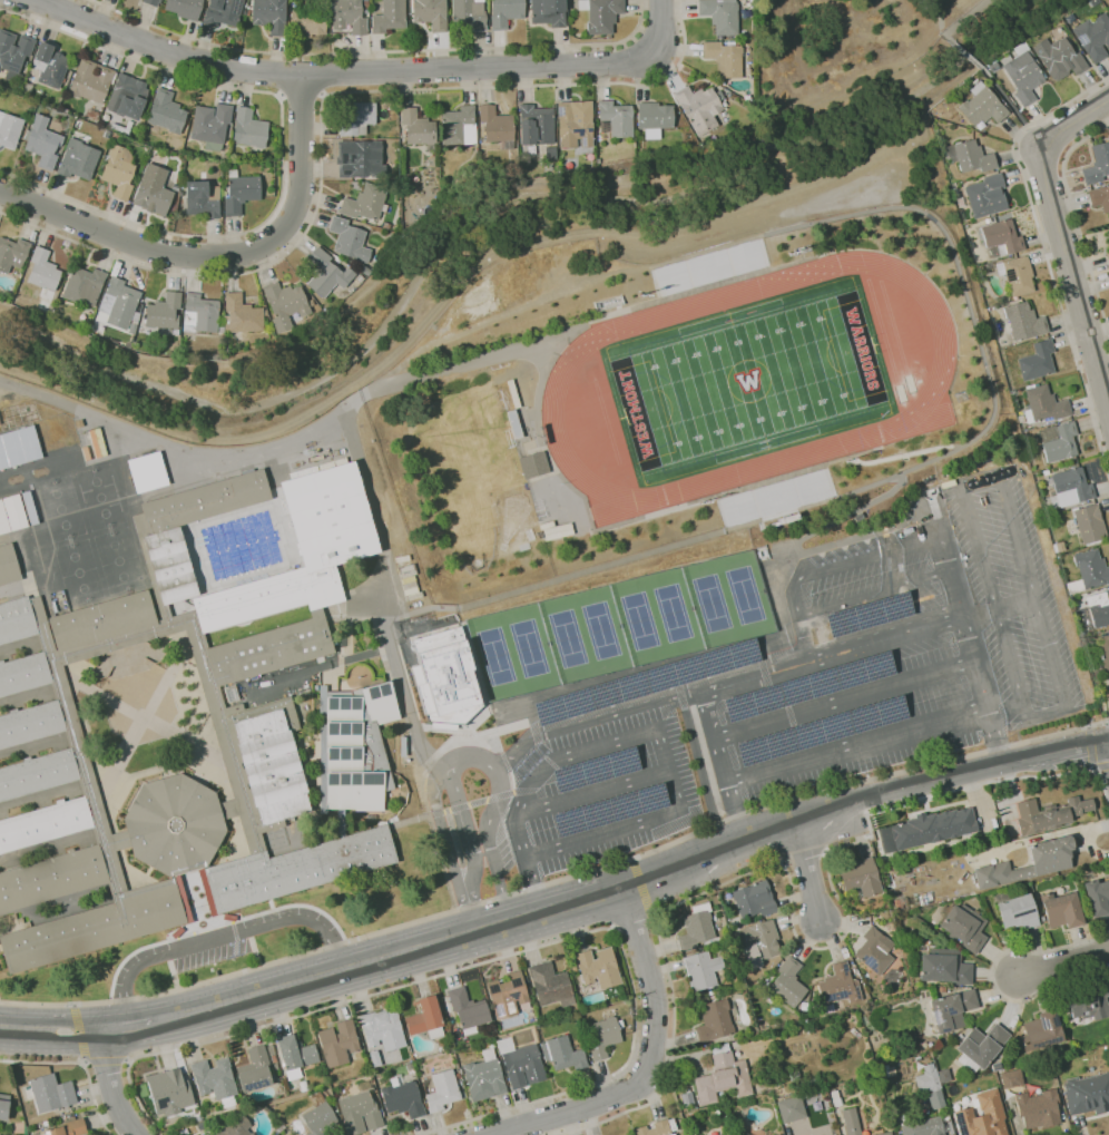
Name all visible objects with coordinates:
building: (153, 2)
building: (185, 8)
building: (366, 8)
building: (248, 12)
building: (506, 12)
building: (549, 12)
building: (432, 13)
building: (224, 14)
building: (470, 14)
building: (601, 14)
building: (722, 14)
building: (271, 16)
building: (349, 16)
building: (390, 17)
road: (961, 21)
building: (308, 23)
road: (659, 26)
building: (1093, 37)
road: (374, 51)
building: (13, 52)
building: (725, 58)
building: (1059, 58)
road: (971, 59)
building: (50, 66)
road: (338, 74)
building: (1022, 76)
building: (92, 80)
building: (27, 88)
road: (301, 96)
building: (128, 97)
road: (1007, 100)
building: (982, 107)
building: (700, 108)
building: (167, 111)
road: (321, 115)
building: (356, 117)
building: (655, 118)
building: (616, 119)
building: (576, 124)
building: (212, 125)
building: (536, 125)
building: (459, 126)
building: (498, 126)
building: (122, 127)
building: (419, 128)
building: (10, 129)
building: (249, 129)
building: (116, 136)
building: (42, 143)
road: (283, 155)
building: (972, 157)
building: (78, 159)
building: (363, 160)
building: (1098, 164)
building: (119, 173)
building: (154, 190)
building: (241, 192)
building: (224, 194)
building: (987, 195)
building: (1100, 196)
building: (203, 198)
road: (460, 199)
building: (365, 203)
road: (1074, 217)
road: (801, 224)
building: (1001, 236)
building: (350, 239)
road: (1064, 242)
building: (804, 249)
road: (1044, 251)
building: (12, 253)
road: (219, 257)
building: (1107, 258)
building: (338, 260)
building: (367, 271)
building: (43, 273)
building: (327, 273)
building: (1018, 275)
building: (360, 278)
building: (85, 286)
building: (118, 304)
building: (285, 304)
building: (312, 304)
building: (165, 312)
building: (200, 314)
building: (242, 315)
building: (1023, 322)
building: (135, 323)
building: (1038, 361)
road: (445, 370)
park: (748, 381)
track: (933, 390)
building: (1044, 403)
building: (516, 423)
building: (95, 443)
building: (1061, 443)
building: (18, 447)
road: (273, 448)
building: (87, 453)
road: (904, 453)
park: (467, 458)
building: (534, 464)
building: (148, 472)
road: (740, 487)
building: (1071, 487)
park: (100, 497)
road: (124, 498)
building: (205, 501)
park: (61, 508)
park: (511, 511)
building: (11, 513)
building: (330, 517)
road: (1012, 520)
building: (1088, 524)
road: (876, 531)
road: (90, 534)
road: (90, 536)
road: (660, 549)
road: (980, 549)
park: (120, 561)
road: (841, 564)
building: (8, 565)
building: (170, 566)
road: (57, 568)
building: (1091, 569)
park: (79, 573)
building: (409, 577)
road: (13, 590)
road: (872, 594)
park: (747, 595)
building: (59, 596)
parking lot: (1010, 596)
building: (268, 597)
park: (714, 604)
road: (1017, 604)
building: (53, 605)
park: (674, 611)
building: (1100, 614)
road: (980, 615)
building: (17, 620)
building: (102, 620)
park: (641, 622)
road: (883, 629)
park: (602, 630)
road: (136, 638)
park: (569, 639)
park: (530, 647)
road: (21, 648)
building: (272, 649)
building: (1103, 650)
park: (498, 657)
road: (974, 662)
road: (814, 663)
building: (23, 674)
road: (641, 675)
building: (446, 676)
parking lot: (860, 676)
building: (1108, 687)
building: (232, 693)
road: (29, 698)
road: (844, 698)
road: (645, 699)
building: (275, 705)
road: (1047, 711)
road: (703, 712)
road: (141, 717)
building: (30, 724)
road: (433, 727)
road: (324, 732)
road: (641, 732)
road: (856, 741)
road: (701, 744)
building: (323, 747)
building: (357, 747)
building: (403, 747)
road: (36, 750)
road: (992, 750)
road: (1056, 752)
road: (1089, 757)
building: (272, 766)
building: (37, 774)
road: (999, 780)
road: (926, 782)
parking lot: (598, 784)
road: (728, 786)
road: (593, 790)
road: (42, 800)
road: (477, 802)
building: (1050, 814)
road: (489, 820)
building: (341, 823)
building: (45, 824)
building: (175, 824)
building: (925, 830)
road: (735, 839)
road: (448, 848)
road: (470, 849)
road: (50, 851)
building: (1050, 861)
road: (441, 863)
building: (294, 869)
road: (807, 872)
road: (189, 877)
building: (861, 877)
building: (52, 878)
road: (642, 888)
road: (714, 889)
building: (1097, 897)
road: (57, 899)
road: (207, 900)
building: (754, 900)
road: (188, 906)
road: (568, 907)
building: (1062, 910)
building: (1017, 911)
road: (443, 914)
road: (632, 922)
road: (218, 924)
building: (99, 926)
road: (498, 926)
building: (696, 927)
building: (963, 927)
road: (234, 928)
road: (479, 931)
road: (222, 938)
building: (762, 939)
building: (874, 951)
road: (501, 957)
road: (1063, 963)
building: (943, 967)
building: (598, 968)
building: (700, 970)
road: (991, 978)
road: (312, 980)
building: (788, 982)
building: (549, 984)
building: (838, 986)
building: (507, 995)
building: (1092, 1004)
building: (951, 1009)
building: (468, 1010)
building: (426, 1019)
building: (714, 1020)
road: (124, 1027)
building: (1043, 1027)
building: (383, 1029)
road: (49, 1030)
building: (601, 1037)
building: (337, 1043)
building: (981, 1045)
building: (295, 1053)
building: (562, 1054)
road: (80, 1055)
building: (375, 1058)
road: (80, 1060)
road: (651, 1065)
building: (523, 1066)
building: (255, 1070)
building: (483, 1077)
building: (723, 1078)
building: (1010, 1078)
building: (215, 1082)
building: (931, 1084)
road: (111, 1087)
building: (442, 1090)
building: (169, 1092)
building: (50, 1093)
building: (1088, 1093)
building: (403, 1099)
building: (3, 1106)
building: (789, 1108)
building: (1038, 1109)
building: (359, 1113)
building: (70, 1115)
building: (982, 1116)
building: (320, 1117)
building: (850, 1122)
building: (235, 1127)
building: (924, 1127)
building: (69, 1128)
building: (658, 1128)
building: (673, 1134)
building: (885, 1134)

